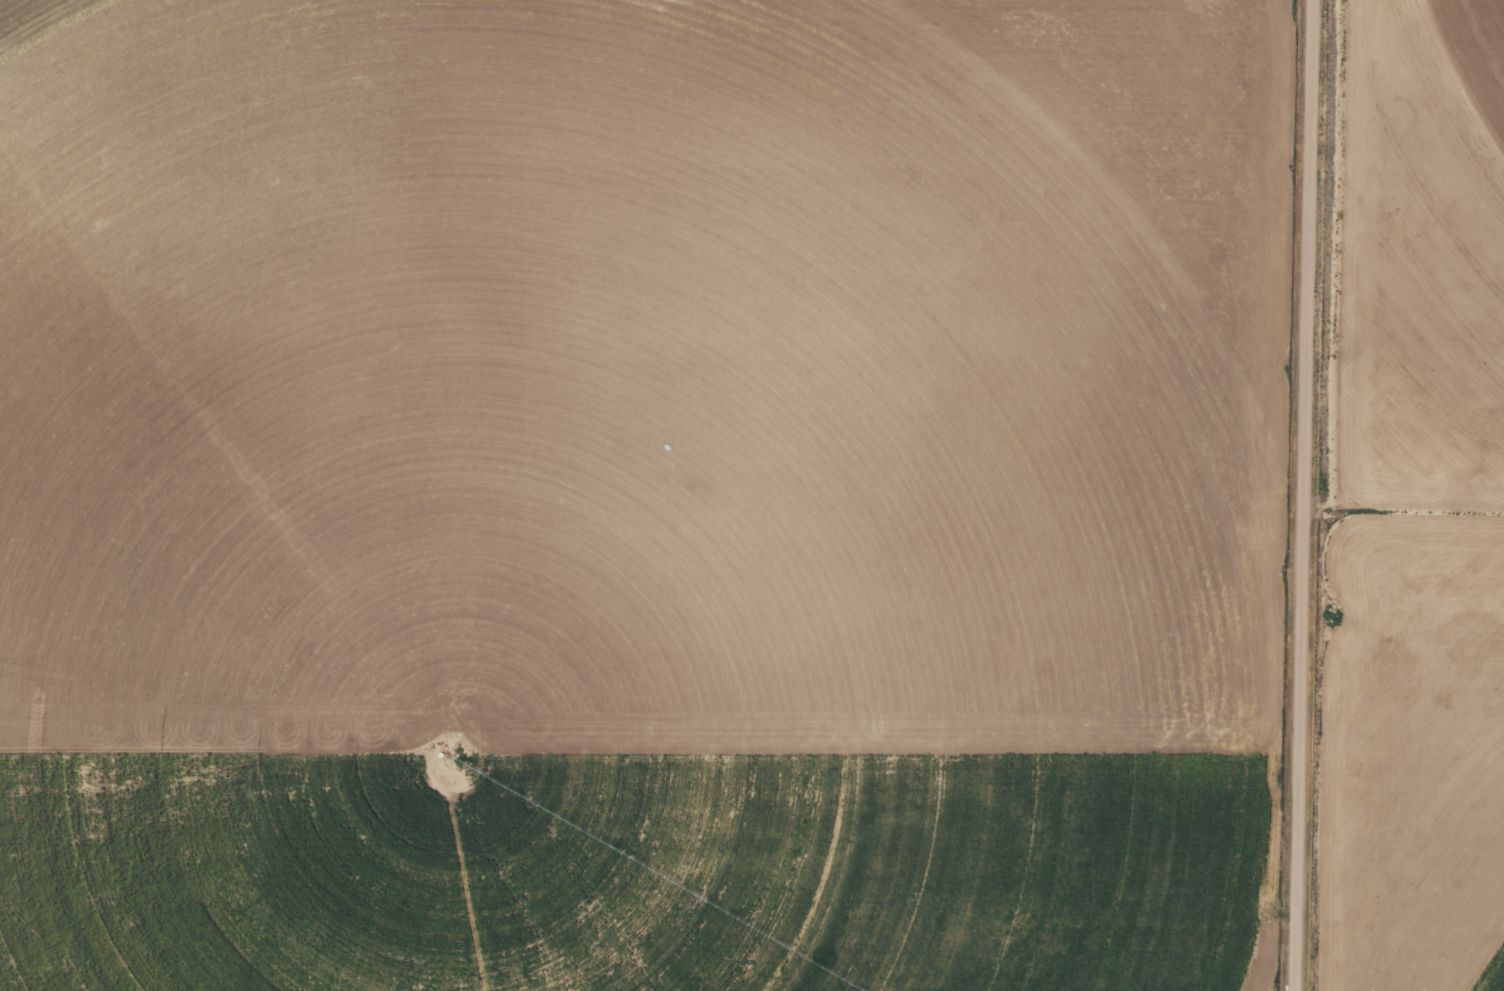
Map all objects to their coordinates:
road: (1305, 495)

